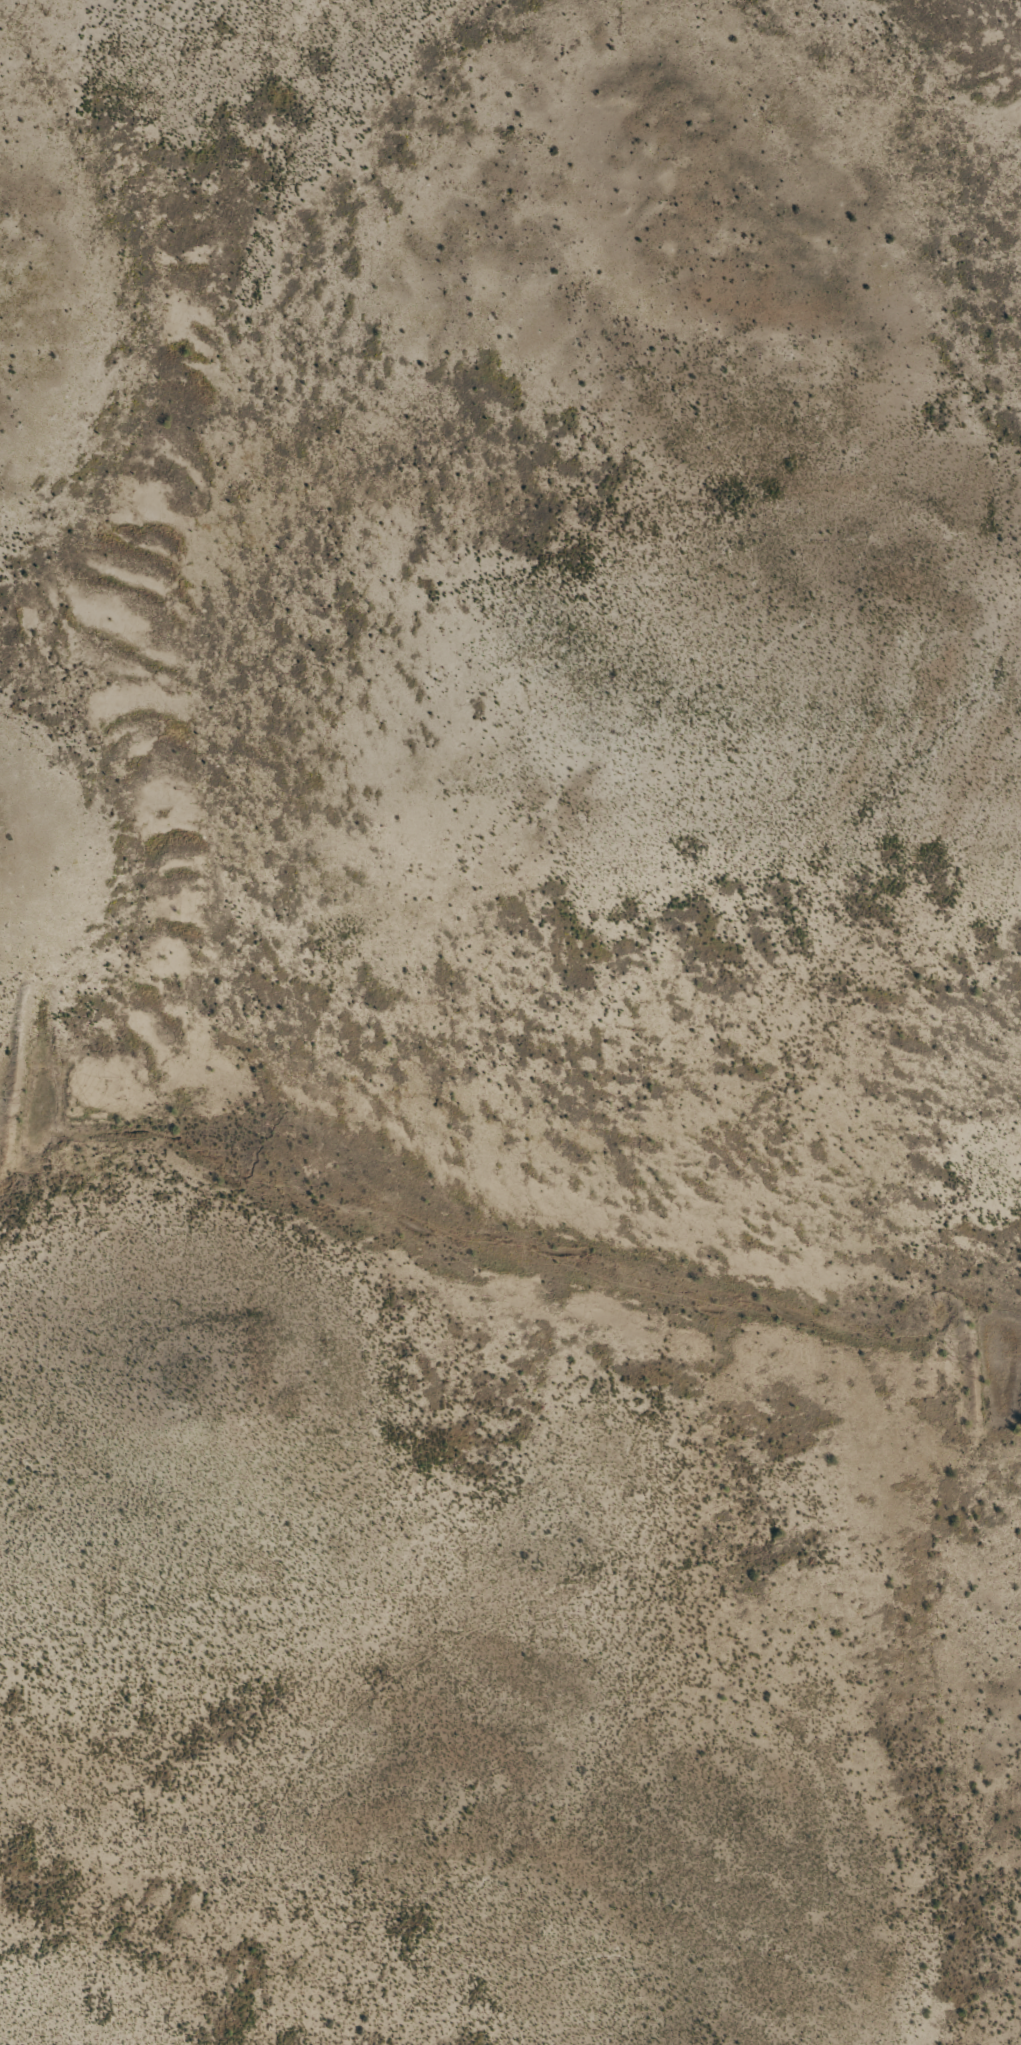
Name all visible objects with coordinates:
road: (505, 1646)

